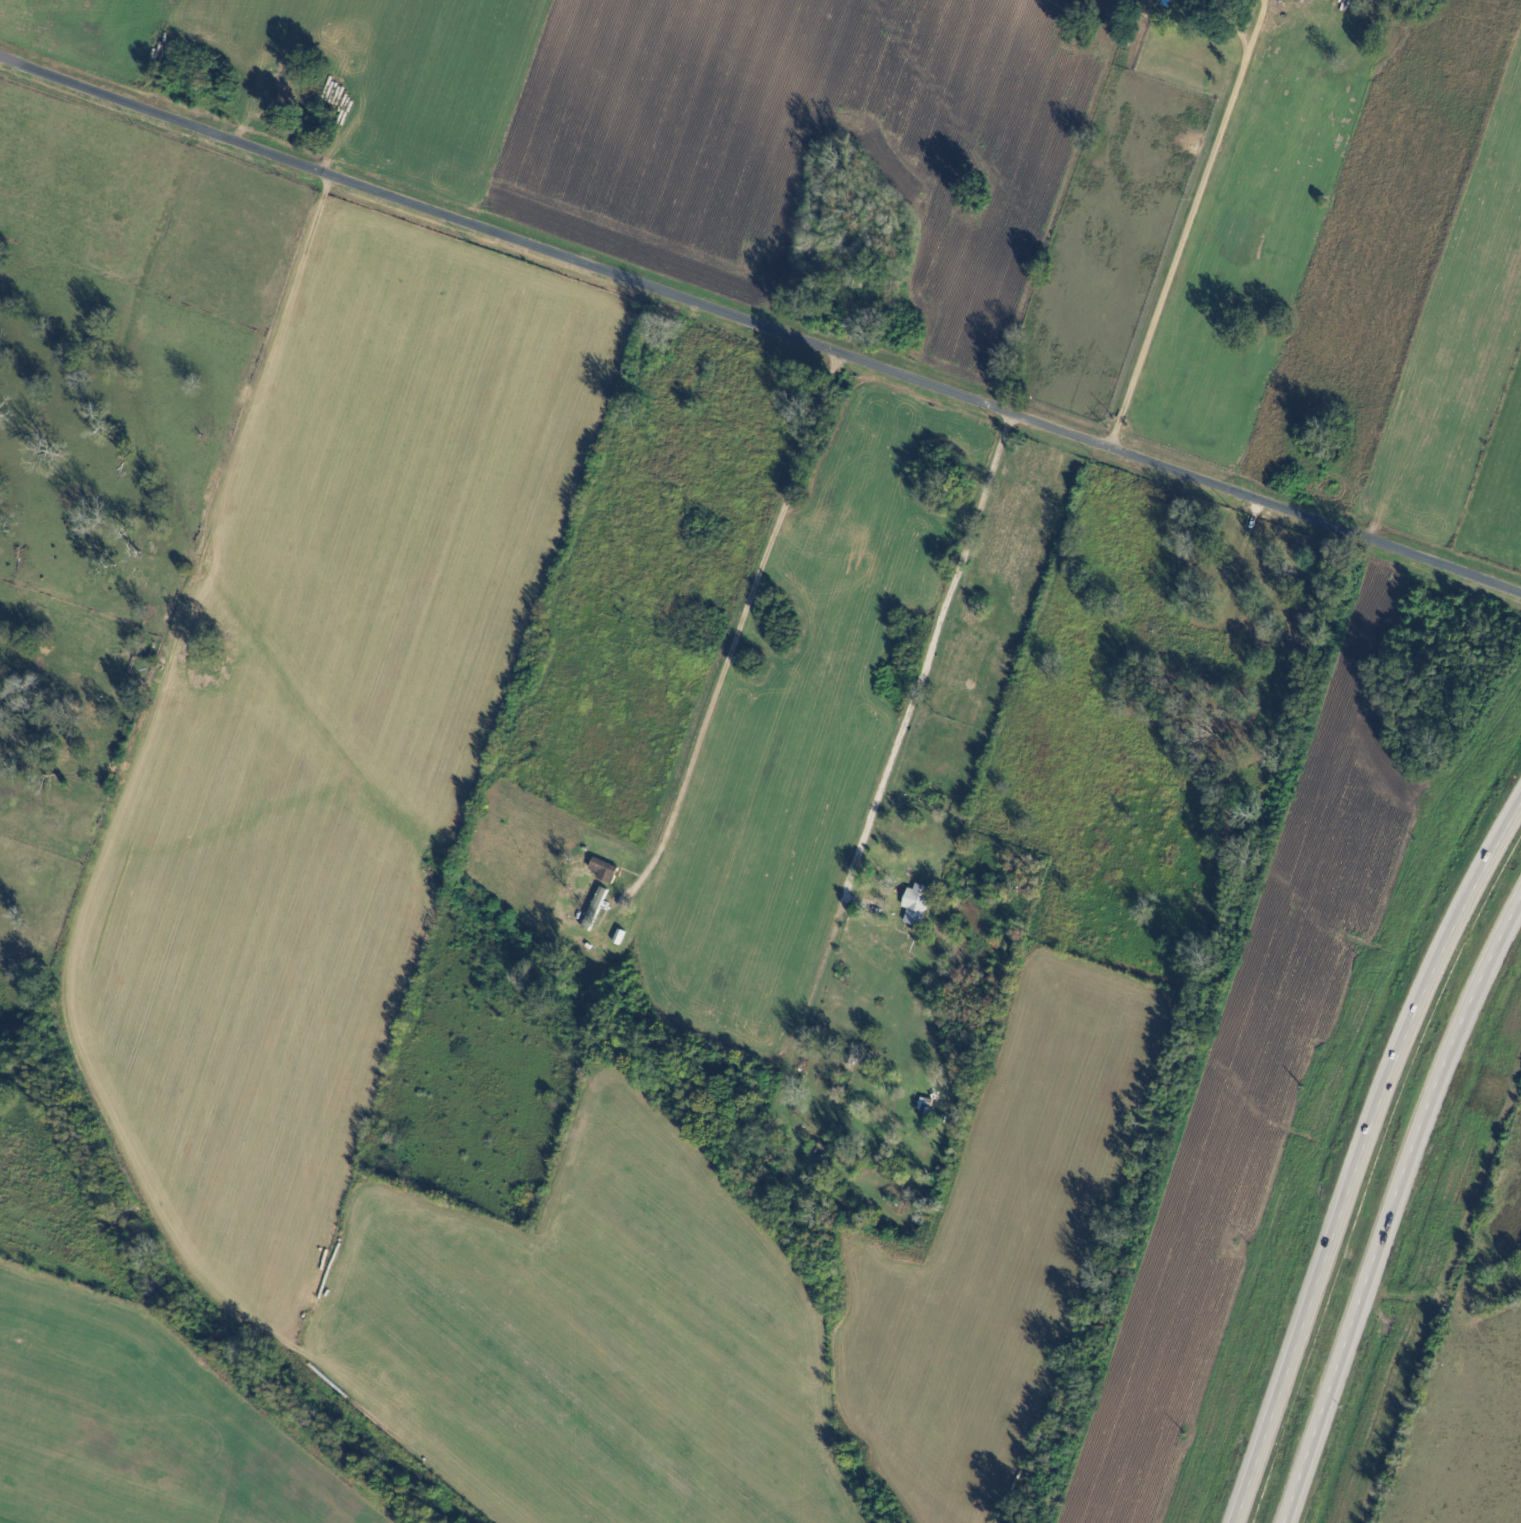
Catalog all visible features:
building: (1214, 0)
building: (323, 116)
road: (1188, 225)
road: (760, 319)
road: (748, 608)
building: (1242, 626)
road: (886, 775)
building: (604, 868)
building: (916, 902)
building: (583, 920)
building: (924, 1104)
building: (820, 1152)
road: (1360, 1155)
road: (1391, 1207)
road: (1345, 1273)

